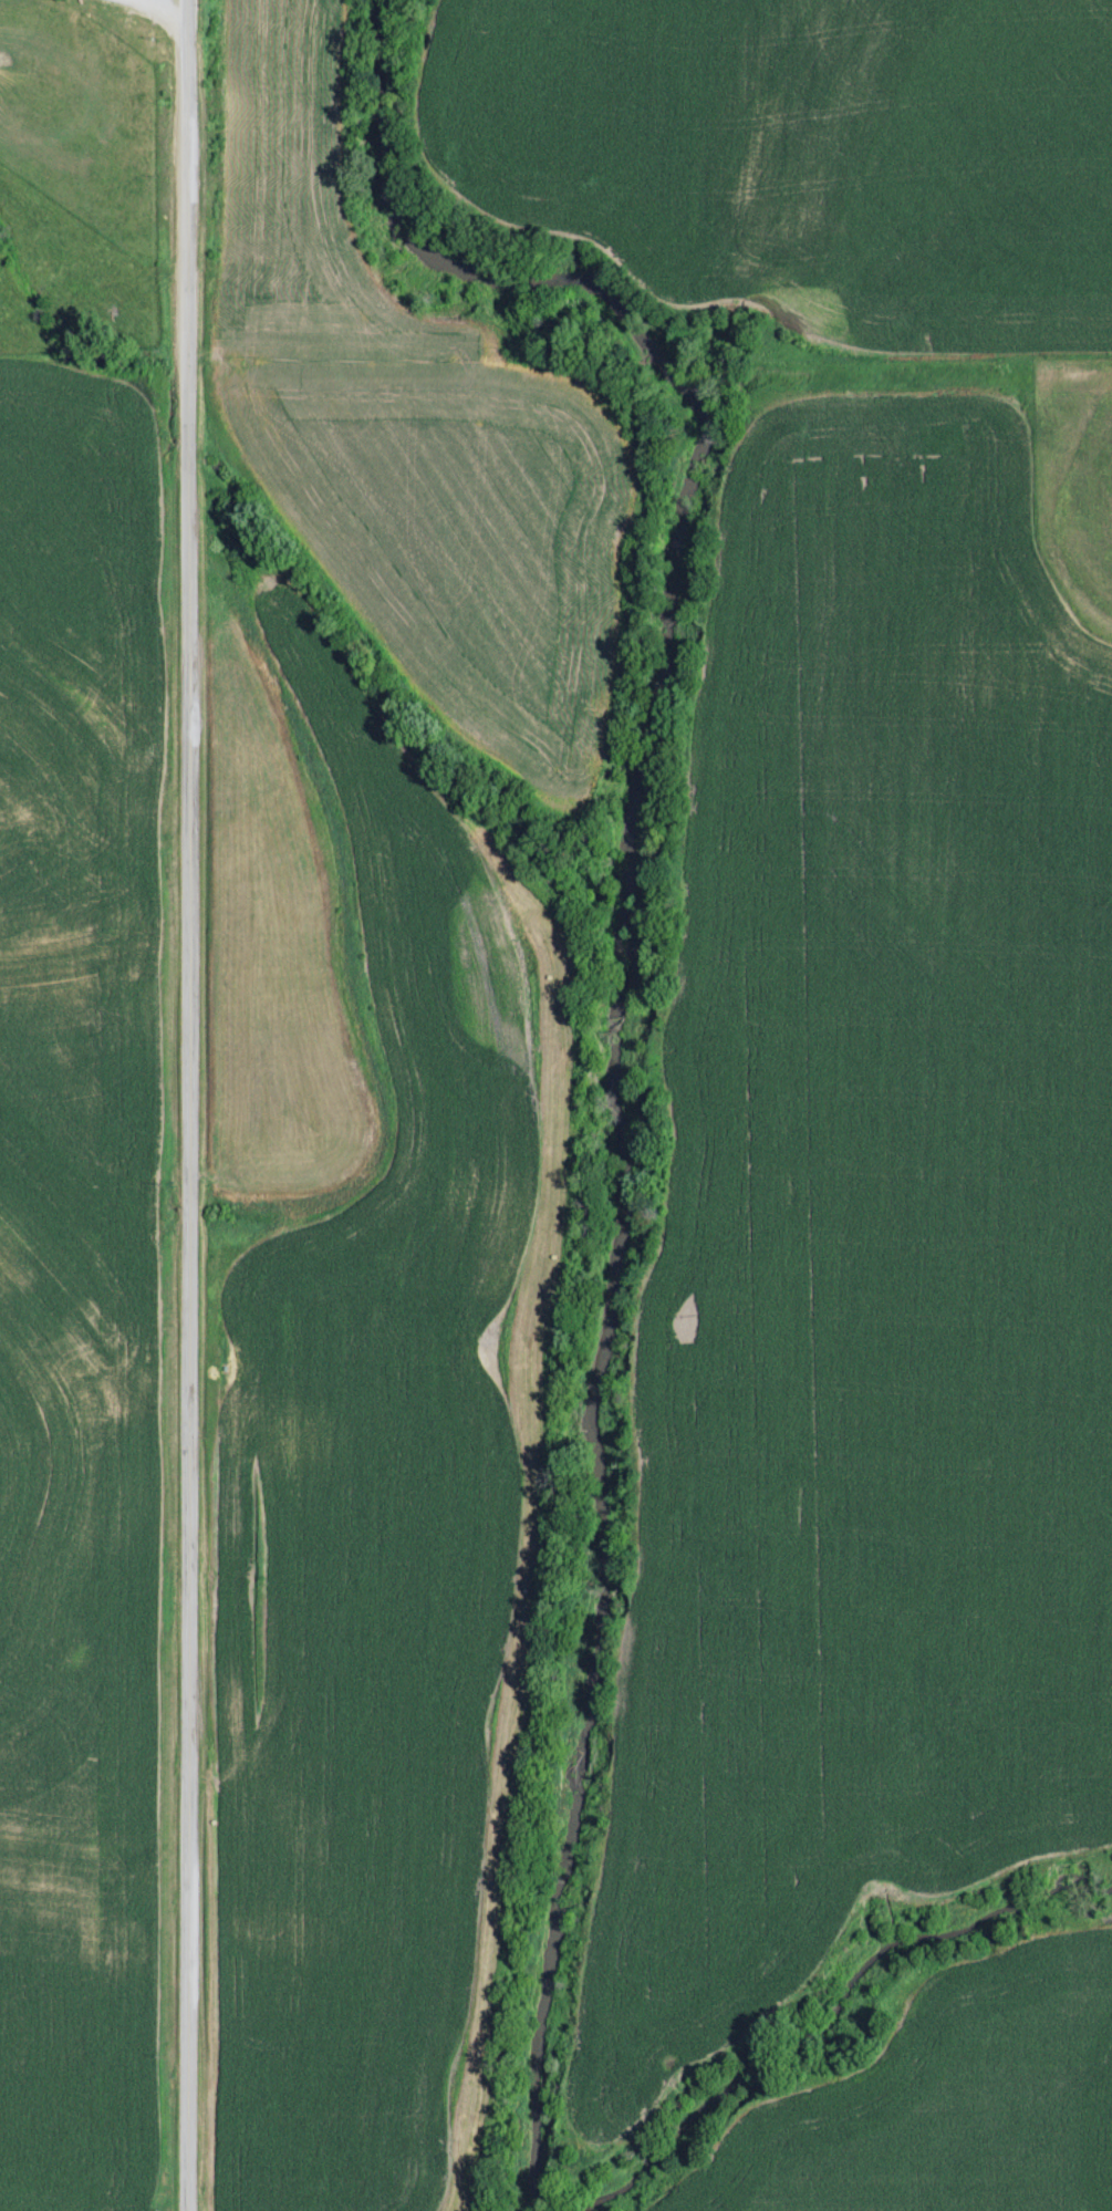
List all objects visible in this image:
road: (183, 1105)

